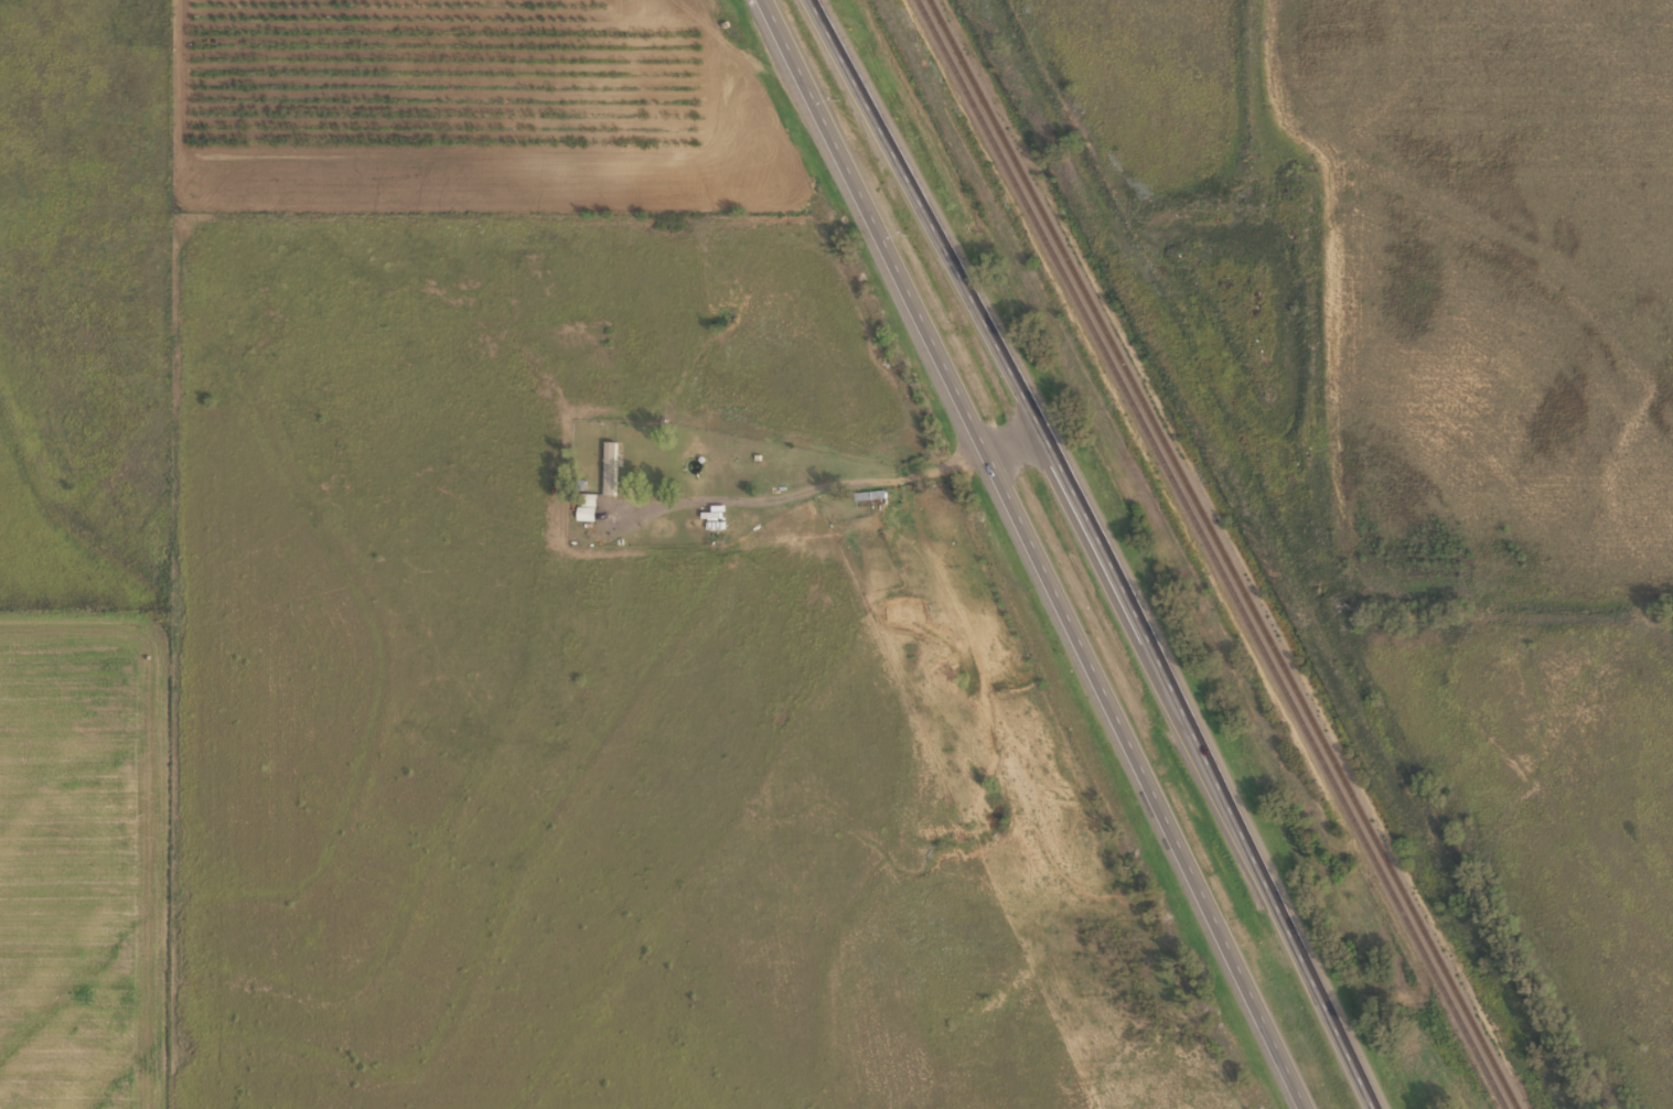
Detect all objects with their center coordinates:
building: (610, 465)
building: (587, 504)
road: (1115, 547)
railway: (1209, 552)
road: (1039, 553)
railway: (1226, 553)

